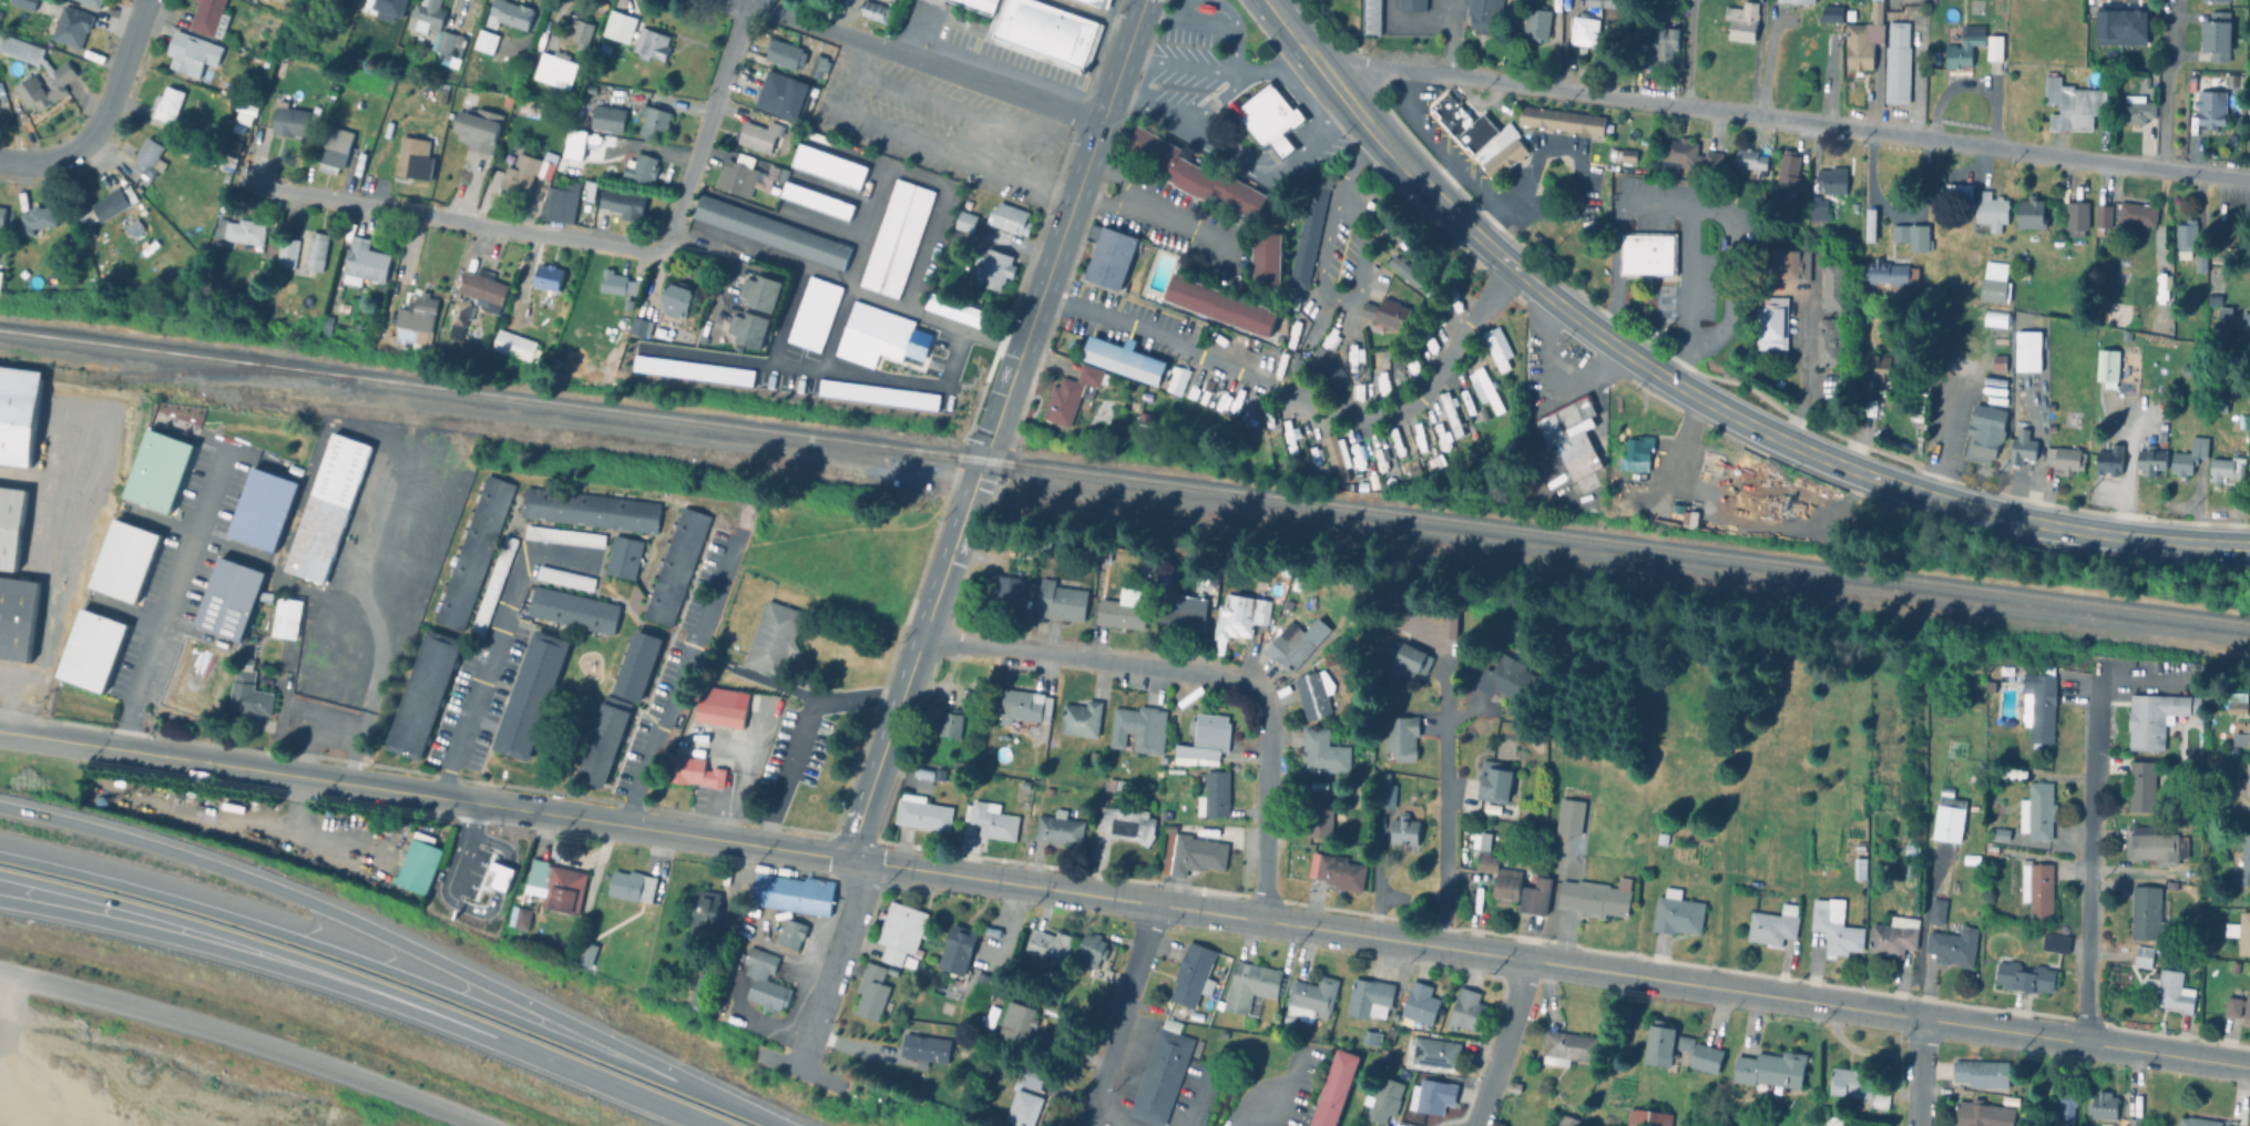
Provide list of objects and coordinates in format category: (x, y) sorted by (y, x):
road: (743, 1)
road: (749, 1)
building: (2219, 1)
building: (92, 2)
building: (932, 2)
building: (1410, 2)
building: (24, 3)
building: (1092, 4)
building: (510, 14)
building: (1371, 14)
building: (425, 16)
building: (209, 18)
road: (1186, 18)
building: (72, 25)
building: (1036, 33)
road: (1451, 38)
building: (2219, 39)
building: (481, 42)
building: (449, 45)
building: (20, 49)
road: (1233, 50)
building: (192, 53)
road: (1689, 53)
road: (1756, 58)
building: (466, 62)
road: (924, 63)
road: (1177, 64)
road: (1264, 66)
building: (441, 68)
building: (552, 68)
building: (2249, 81)
building: (2233, 82)
road: (2167, 84)
building: (28, 86)
building: (441, 91)
building: (331, 92)
road: (1361, 94)
road: (1408, 96)
building: (1, 98)
road: (1333, 102)
road: (1215, 103)
building: (167, 104)
building: (246, 109)
building: (2215, 112)
building: (2249, 112)
road: (101, 113)
road: (1328, 114)
building: (243, 117)
building: (1271, 119)
building: (1562, 119)
building: (290, 120)
road: (1796, 122)
building: (474, 126)
building: (239, 129)
road: (704, 130)
building: (1482, 135)
road: (1561, 146)
building: (186, 149)
building: (336, 149)
building: (417, 156)
building: (149, 157)
building: (523, 168)
road: (1453, 170)
road: (1255, 171)
road: (1349, 171)
road: (1109, 172)
road: (1097, 197)
building: (558, 198)
road: (1651, 199)
building: (112, 203)
road: (1453, 212)
building: (1, 214)
building: (38, 217)
road: (1169, 217)
road: (452, 218)
building: (133, 227)
building: (241, 229)
road: (1062, 229)
building: (2188, 236)
building: (2228, 239)
road: (1496, 249)
building: (286, 250)
building: (316, 250)
road: (781, 253)
building: (1648, 253)
building: (2203, 259)
building: (364, 260)
building: (469, 263)
road: (1616, 268)
road: (1732, 268)
road: (1687, 269)
building: (0, 275)
building: (546, 276)
building: (481, 288)
road: (1343, 296)
building: (331, 304)
building: (2228, 314)
building: (413, 317)
building: (457, 317)
road: (1575, 318)
road: (941, 323)
building: (326, 324)
building: (2247, 328)
building: (514, 346)
road: (1675, 355)
road: (1802, 369)
building: (2190, 372)
railway: (168, 376)
building: (1067, 393)
road: (1306, 401)
building: (17, 418)
building: (1574, 434)
road: (1937, 436)
building: (2191, 458)
building: (2229, 472)
railway: (1124, 478)
road: (1932, 497)
building: (325, 512)
building: (10, 529)
building: (126, 566)
road: (167, 597)
building: (16, 623)
building: (776, 624)
road: (492, 644)
building: (92, 655)
road: (913, 658)
road: (1097, 661)
road: (2131, 676)
road: (678, 679)
road: (376, 680)
road: (814, 697)
building: (722, 702)
building: (2239, 704)
road: (11, 707)
road: (308, 723)
building: (2243, 738)
building: (697, 767)
road: (787, 771)
building: (2243, 792)
road: (1267, 811)
road: (1444, 836)
road: (723, 838)
building: (2243, 864)
road: (2090, 868)
road: (1922, 930)
road: (388, 932)
building: (2241, 934)
road: (840, 943)
road: (1486, 955)
road: (274, 962)
road: (382, 965)
road: (374, 979)
building: (2238, 1007)
road: (1124, 1012)
road: (1889, 1014)
road: (250, 1036)
road: (1500, 1044)
road: (1919, 1073)
park: (157, 1077)
road: (1249, 1115)
road: (769, 1119)
road: (1104, 1122)
building: (2199, 1123)

